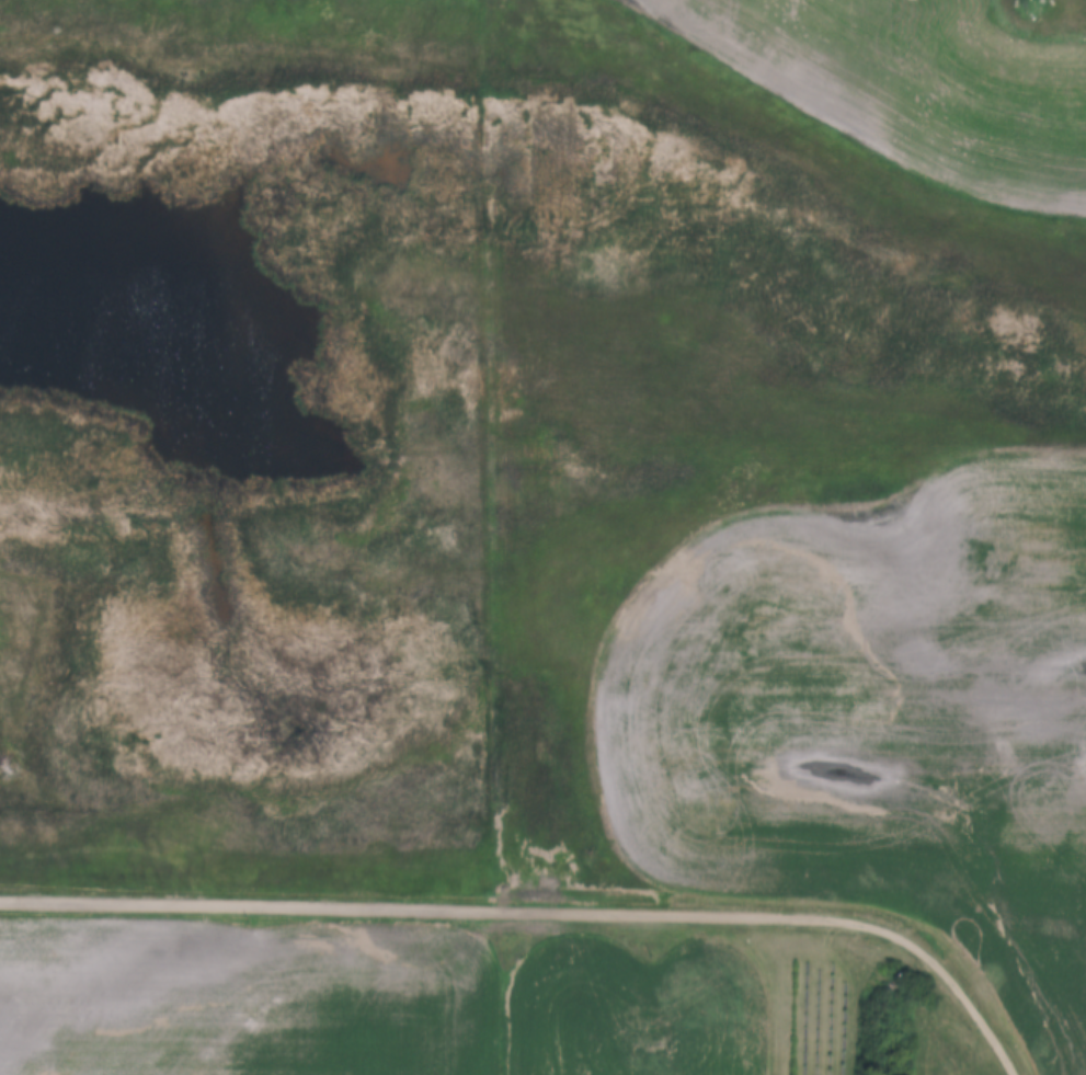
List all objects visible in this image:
road: (534, 915)

